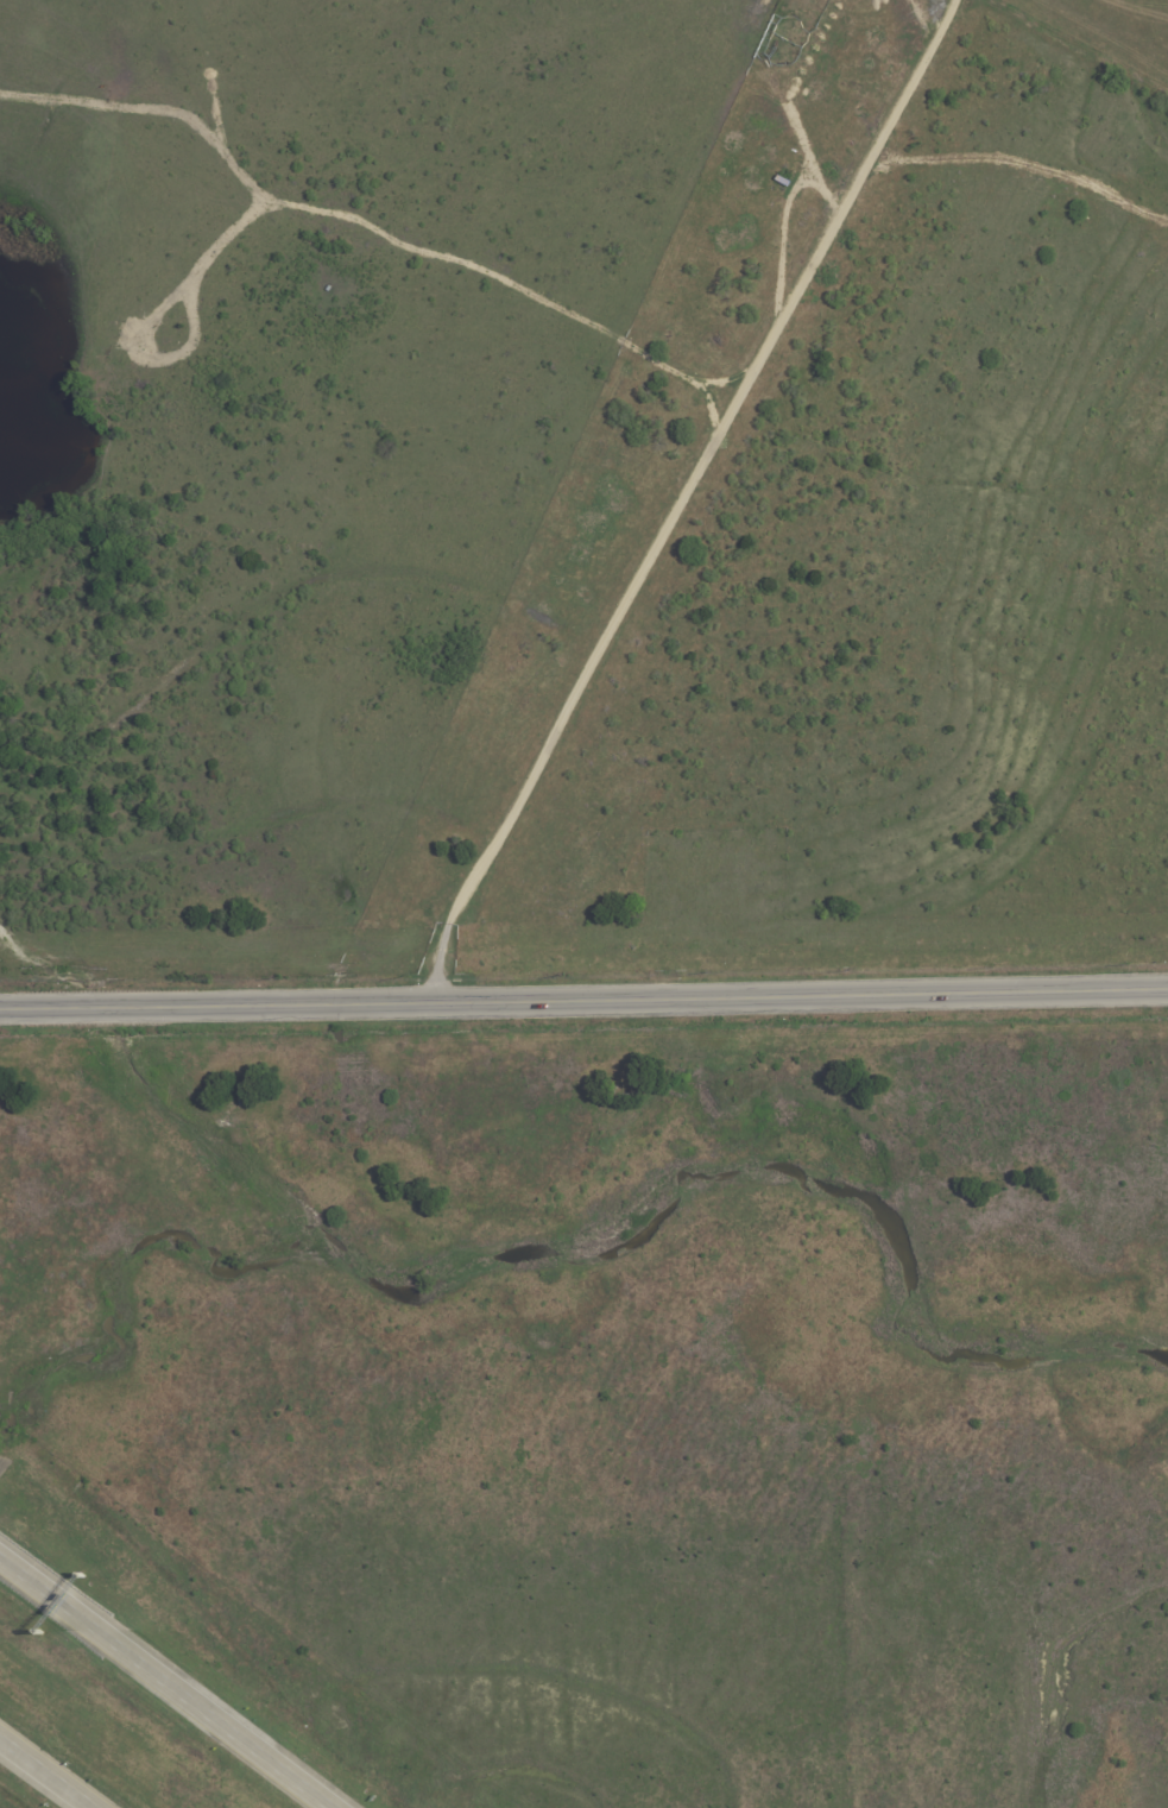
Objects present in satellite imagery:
building: (782, 181)
road: (683, 497)
road: (583, 1000)
road: (163, 1682)
road: (44, 1775)

